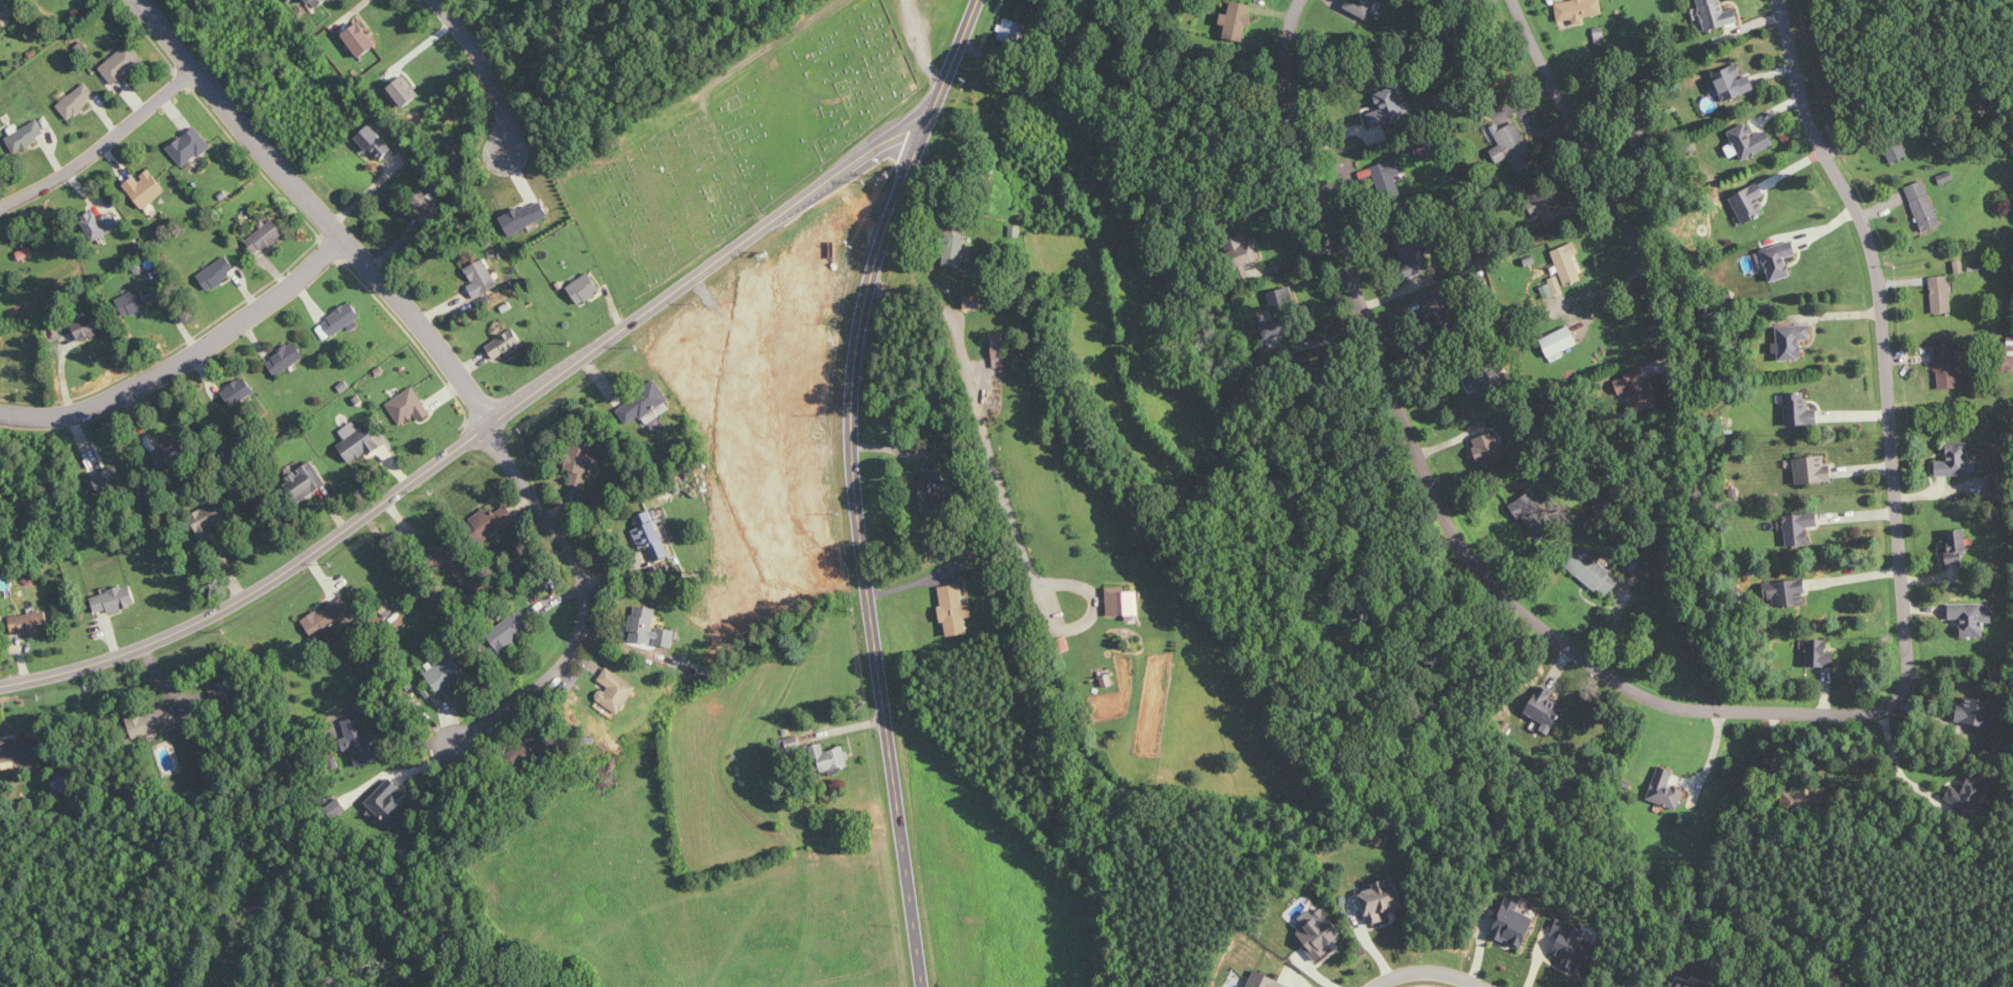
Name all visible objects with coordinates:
building: (310, 1)
building: (1364, 9)
building: (1578, 9)
building: (5, 12)
building: (1716, 14)
building: (1237, 20)
building: (1012, 31)
building: (358, 37)
road: (919, 44)
building: (122, 63)
road: (486, 70)
building: (1732, 82)
building: (404, 91)
building: (78, 98)
building: (1387, 108)
park: (702, 109)
building: (27, 136)
building: (1749, 141)
building: (374, 144)
road: (102, 145)
building: (190, 146)
building: (1514, 147)
building: (1897, 153)
road: (1580, 156)
building: (1389, 175)
building: (1946, 177)
building: (145, 188)
building: (1749, 203)
building: (1923, 205)
building: (426, 206)
building: (1557, 207)
road: (318, 208)
building: (525, 217)
building: (100, 224)
building: (265, 236)
building: (954, 250)
building: (1246, 252)
building: (1414, 253)
building: (1779, 258)
building: (1568, 263)
building: (216, 273)
building: (481, 278)
building: (584, 288)
building: (1552, 288)
building: (1941, 294)
building: (1281, 301)
building: (133, 302)
building: (972, 302)
building: (1438, 312)
building: (340, 320)
building: (88, 326)
building: (1558, 341)
building: (1791, 341)
building: (998, 343)
building: (505, 345)
building: (2006, 355)
road: (186, 359)
building: (285, 359)
building: (1947, 366)
building: (1487, 379)
building: (1636, 389)
building: (238, 391)
building: (643, 403)
building: (407, 405)
building: (1799, 410)
road: (474, 433)
building: (358, 442)
building: (1489, 449)
building: (171, 454)
building: (1955, 460)
building: (581, 462)
building: (1812, 469)
building: (109, 479)
building: (305, 482)
road: (855, 484)
building: (1995, 484)
road: (1000, 485)
building: (931, 492)
building: (1605, 503)
building: (1532, 512)
building: (210, 517)
building: (492, 521)
building: (1799, 528)
building: (665, 532)
building: (649, 534)
building: (1955, 543)
building: (442, 551)
building: (1591, 571)
building: (1788, 592)
road: (583, 598)
building: (114, 599)
building: (1122, 601)
building: (954, 609)
building: (328, 615)
building: (1971, 617)
building: (30, 623)
building: (644, 624)
building: (513, 626)
building: (666, 637)
building: (1061, 644)
building: (1817, 651)
building: (447, 674)
building: (1107, 680)
building: (617, 690)
building: (227, 698)
building: (1543, 706)
building: (1979, 711)
road: (1719, 717)
building: (153, 720)
building: (358, 735)
building: (536, 748)
building: (836, 758)
road: (1709, 764)
road: (1900, 770)
building: (1665, 789)
building: (1968, 795)
building: (387, 804)
building: (1381, 901)
building: (1508, 929)
building: (1319, 933)
building: (1572, 946)
road: (1427, 972)
building: (1265, 981)
building: (1688, 983)

